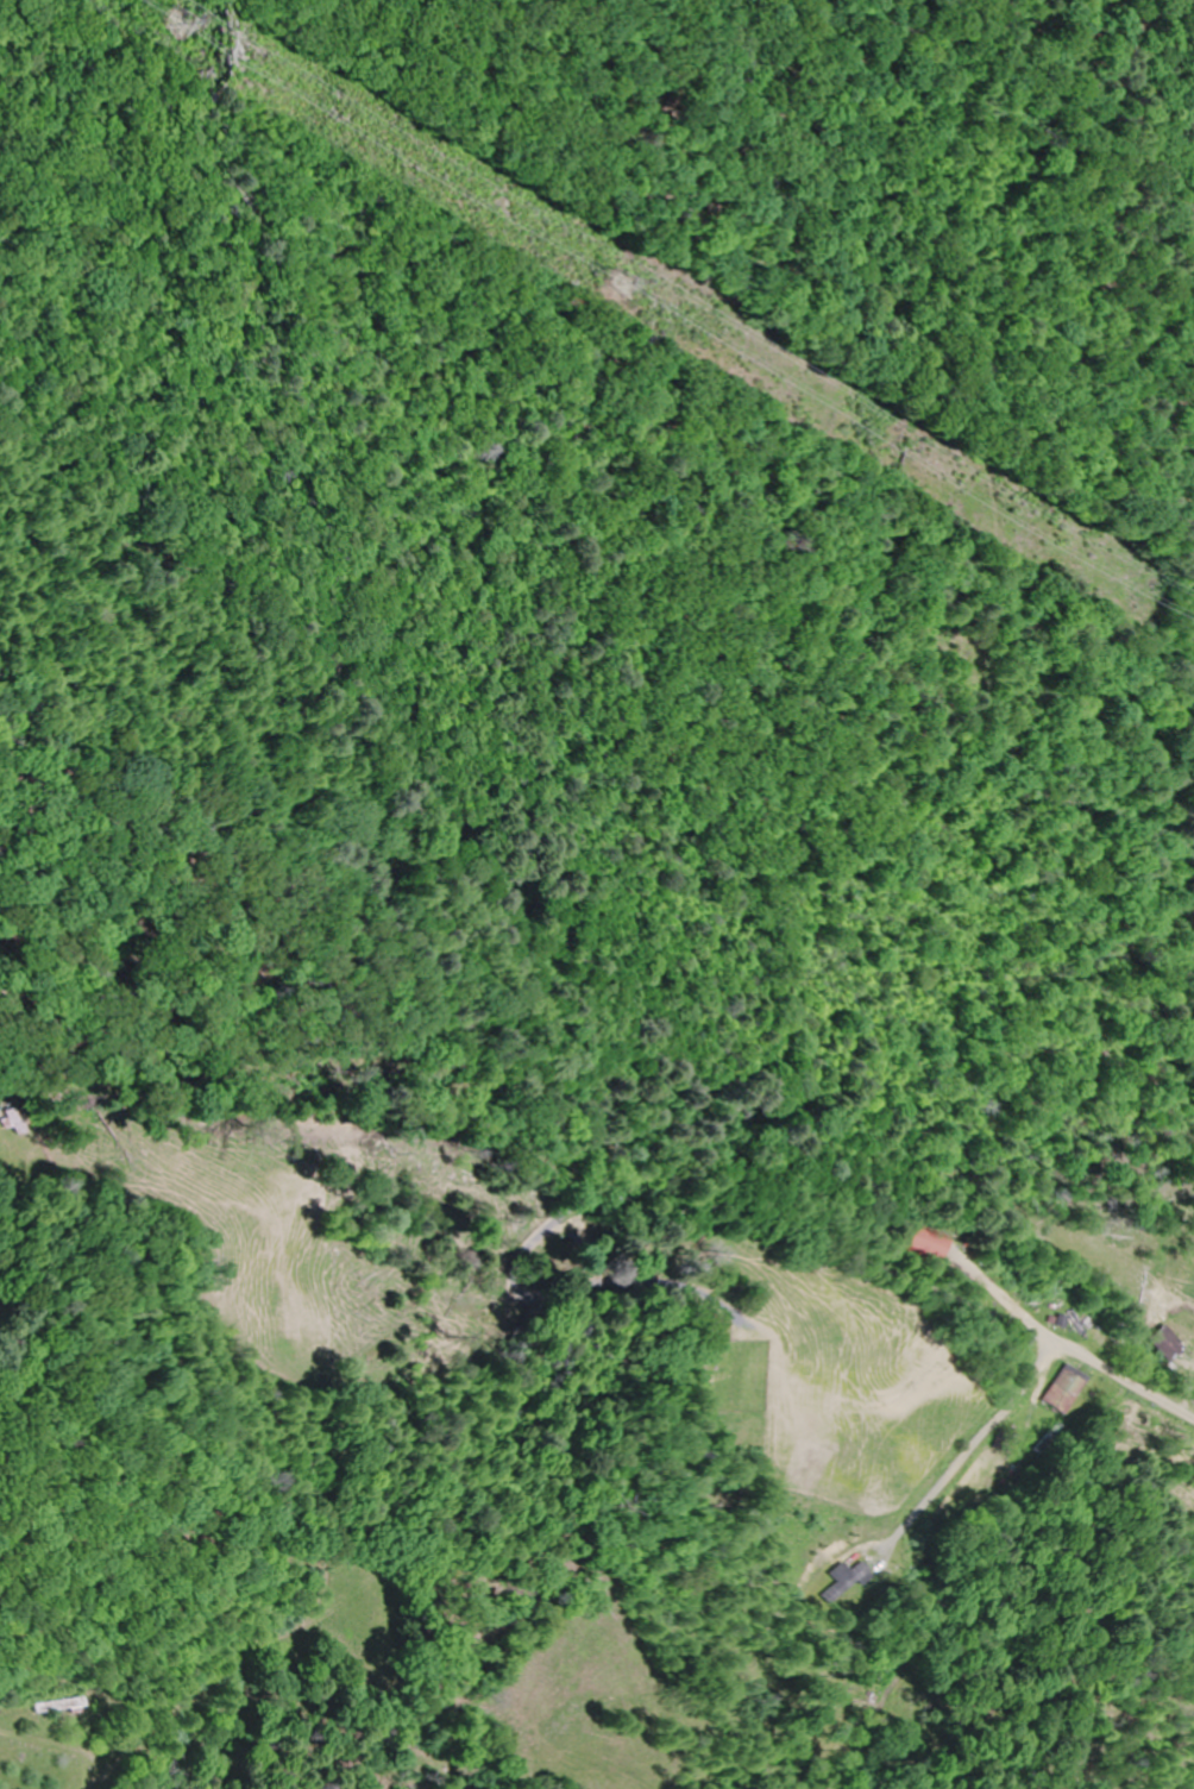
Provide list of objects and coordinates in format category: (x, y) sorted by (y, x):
road: (1129, 1377)
road: (326, 1602)
road: (67, 1744)

